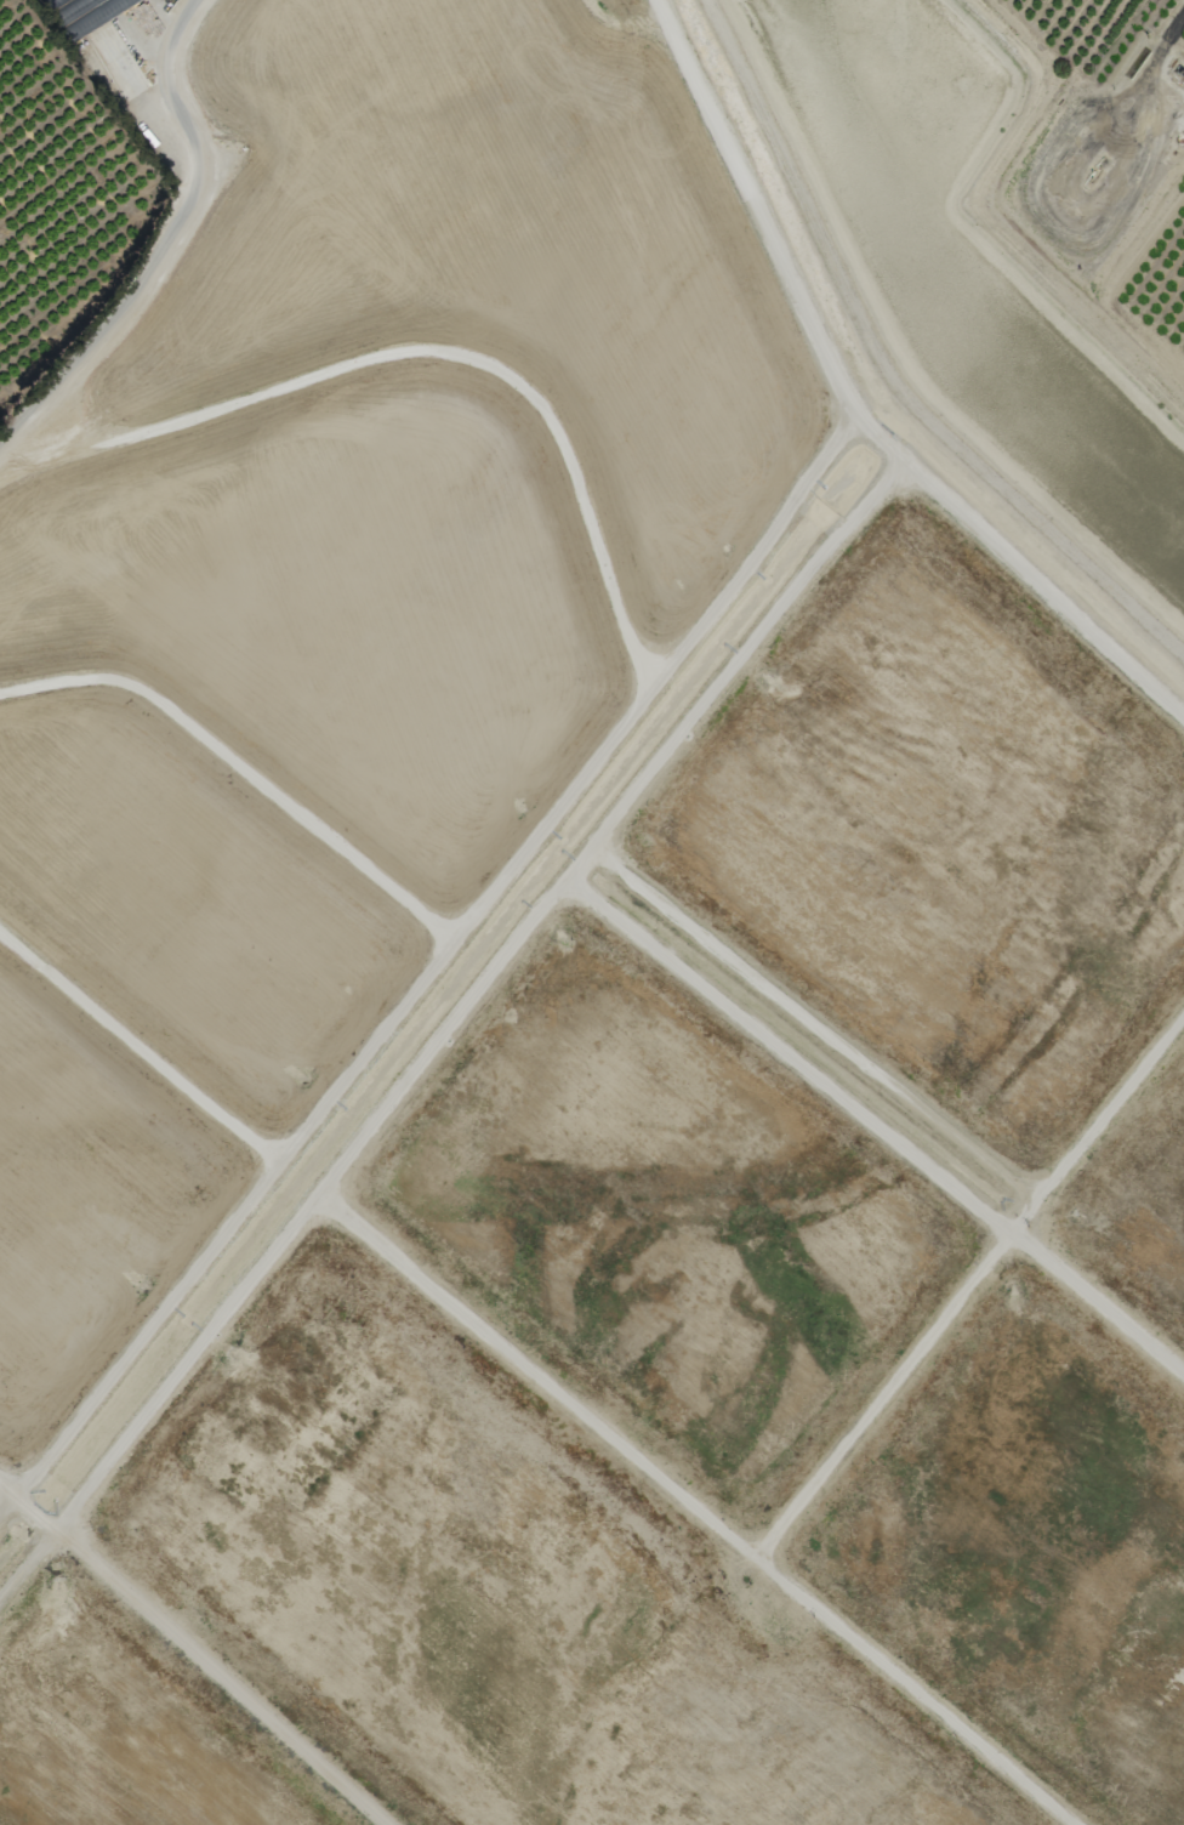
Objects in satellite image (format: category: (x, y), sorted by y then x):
building: (57, 2)
building: (109, 2)
crop: (141, 32)
road: (1162, 55)
road: (171, 241)

